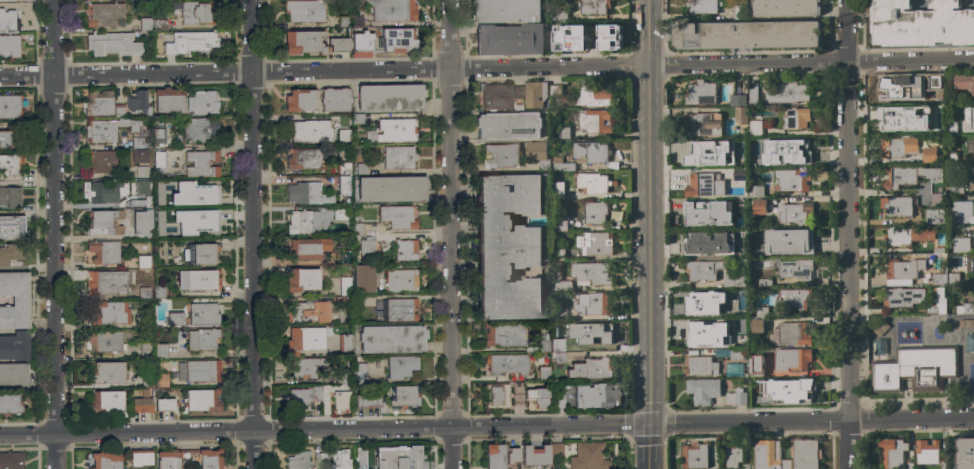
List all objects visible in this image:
building: (8, 0)
building: (593, 6)
building: (703, 6)
building: (785, 8)
building: (391, 9)
building: (304, 10)
building: (508, 11)
building: (198, 12)
building: (737, 12)
building: (561, 13)
building: (104, 14)
building: (8, 20)
building: (350, 20)
building: (921, 23)
building: (152, 24)
road: (845, 30)
road: (648, 33)
building: (747, 35)
building: (569, 37)
building: (610, 37)
building: (510, 39)
building: (397, 40)
building: (191, 41)
building: (303, 41)
building: (362, 41)
building: (113, 43)
building: (339, 43)
building: (10, 46)
road: (910, 60)
road: (747, 63)
road: (324, 70)
building: (937, 81)
building: (965, 83)
building: (555, 90)
building: (899, 90)
building: (518, 91)
building: (701, 93)
building: (753, 93)
building: (787, 93)
building: (535, 94)
building: (593, 96)
building: (390, 97)
building: (499, 97)
building: (168, 99)
building: (335, 99)
building: (137, 100)
building: (300, 100)
building: (737, 100)
building: (202, 101)
building: (98, 102)
building: (10, 106)
building: (119, 109)
building: (740, 115)
building: (973, 117)
building: (357, 118)
building: (795, 118)
building: (902, 119)
building: (593, 121)
building: (509, 125)
building: (703, 125)
building: (757, 127)
building: (951, 127)
building: (109, 128)
building: (197, 130)
building: (393, 130)
building: (308, 131)
building: (343, 132)
building: (564, 133)
building: (158, 136)
building: (5, 139)
building: (136, 142)
building: (737, 144)
building: (554, 145)
building: (898, 147)
building: (970, 147)
building: (799, 149)
building: (591, 152)
building: (538, 154)
building: (930, 154)
building: (140, 155)
building: (501, 155)
building: (698, 156)
building: (400, 157)
building: (951, 157)
building: (302, 158)
building: (101, 160)
building: (159, 160)
building: (9, 163)
building: (202, 163)
building: (563, 166)
building: (362, 168)
building: (971, 170)
building: (142, 171)
building: (740, 174)
building: (901, 176)
building: (792, 180)
building: (936, 180)
building: (593, 183)
building: (343, 184)
building: (703, 185)
building: (142, 187)
building: (164, 187)
building: (955, 187)
building: (101, 188)
building: (204, 189)
building: (391, 189)
building: (557, 191)
building: (756, 191)
road: (868, 192)
road: (907, 192)
building: (307, 193)
building: (743, 194)
building: (10, 196)
building: (141, 200)
building: (166, 201)
building: (736, 204)
building: (759, 206)
building: (897, 206)
building: (340, 212)
road: (451, 212)
building: (595, 212)
building: (796, 213)
building: (962, 213)
building: (706, 215)
building: (398, 216)
building: (933, 216)
building: (163, 219)
building: (534, 221)
building: (105, 222)
building: (304, 222)
building: (142, 223)
building: (200, 224)
building: (560, 224)
building: (12, 227)
building: (357, 228)
building: (973, 233)
road: (55, 234)
road: (251, 234)
building: (909, 236)
building: (788, 241)
building: (710, 242)
building: (599, 244)
road: (648, 244)
building: (960, 245)
building: (508, 246)
building: (306, 248)
building: (367, 248)
building: (405, 249)
building: (938, 250)
building: (104, 251)
building: (11, 253)
building: (201, 253)
building: (558, 254)
building: (342, 257)
building: (143, 261)
road: (847, 264)
building: (972, 264)
building: (704, 270)
building: (798, 270)
building: (903, 271)
building: (591, 273)
building: (363, 278)
building: (939, 278)
building: (952, 278)
building: (198, 279)
building: (302, 279)
building: (401, 280)
building: (106, 281)
building: (735, 281)
building: (559, 282)
building: (764, 283)
building: (345, 285)
building: (159, 290)
building: (145, 292)
building: (741, 294)
building: (904, 297)
building: (794, 298)
building: (14, 300)
building: (338, 300)
building: (936, 302)
building: (594, 303)
building: (702, 304)
building: (401, 309)
building: (963, 309)
building: (308, 311)
building: (109, 312)
building: (762, 312)
building: (203, 314)
building: (558, 314)
building: (378, 316)
building: (175, 318)
building: (140, 321)
building: (736, 323)
building: (965, 323)
building: (757, 325)
building: (591, 333)
building: (790, 334)
building: (506, 335)
building: (702, 335)
building: (391, 338)
building: (202, 339)
building: (105, 340)
building: (544, 342)
building: (344, 344)
building: (556, 344)
building: (15, 345)
building: (969, 345)
building: (303, 349)
building: (530, 349)
building: (160, 350)
building: (145, 351)
building: (736, 354)
building: (792, 359)
building: (507, 363)
building: (400, 365)
building: (701, 366)
building: (756, 366)
building: (591, 368)
building: (732, 368)
building: (915, 369)
building: (199, 370)
building: (106, 372)
building: (361, 372)
building: (13, 373)
building: (542, 373)
building: (342, 377)
building: (161, 380)
building: (147, 382)
building: (702, 390)
building: (788, 390)
building: (145, 392)
building: (496, 395)
building: (593, 395)
building: (311, 396)
building: (404, 396)
building: (538, 396)
building: (736, 397)
building: (202, 399)
building: (341, 399)
building: (367, 400)
building: (558, 400)
building: (106, 401)
building: (10, 404)
building: (141, 404)
building: (164, 404)
traffic signals: (647, 422)
road: (486, 424)
road: (647, 445)
road: (451, 447)
building: (556, 449)
building: (928, 453)
building: (965, 453)
building: (766, 454)
building: (804, 454)
building: (893, 454)
building: (512, 455)
building: (535, 455)
building: (494, 456)
building: (588, 456)
building: (694, 456)
building: (140, 457)
building: (360, 457)
building: (397, 457)
building: (733, 457)
building: (207, 458)
building: (173, 459)
building: (297, 459)
building: (332, 459)
building: (11, 460)
building: (105, 460)
building: (785, 464)
building: (744, 466)

